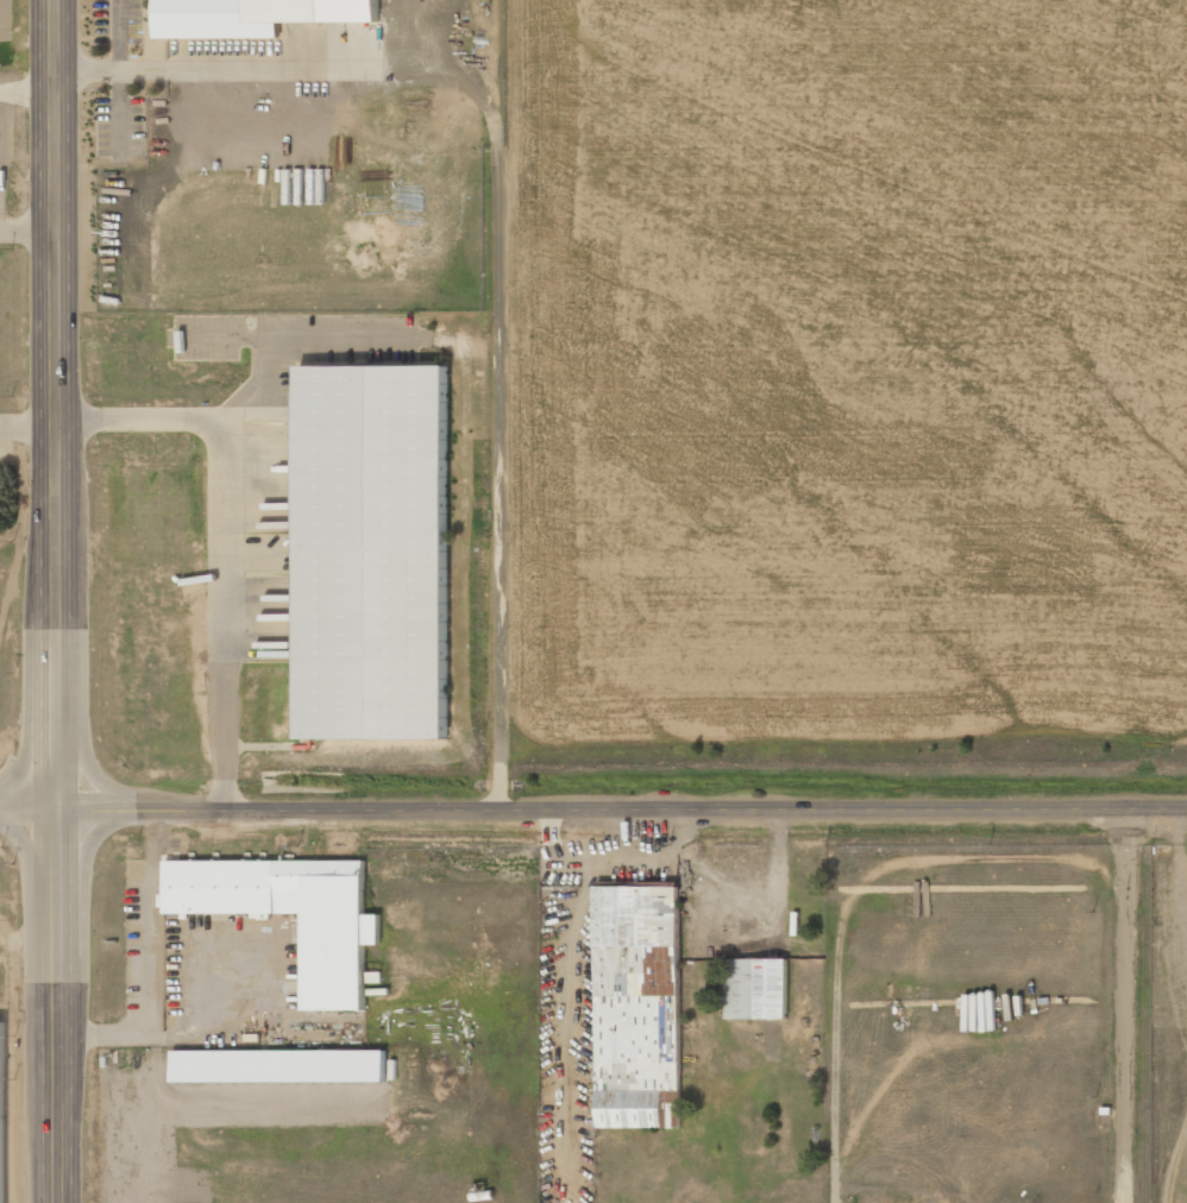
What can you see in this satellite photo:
building: (252, 15)
building: (373, 552)
road: (57, 601)
road: (29, 804)
road: (622, 805)
building: (343, 931)
building: (756, 988)
building: (638, 1006)
building: (280, 1065)

